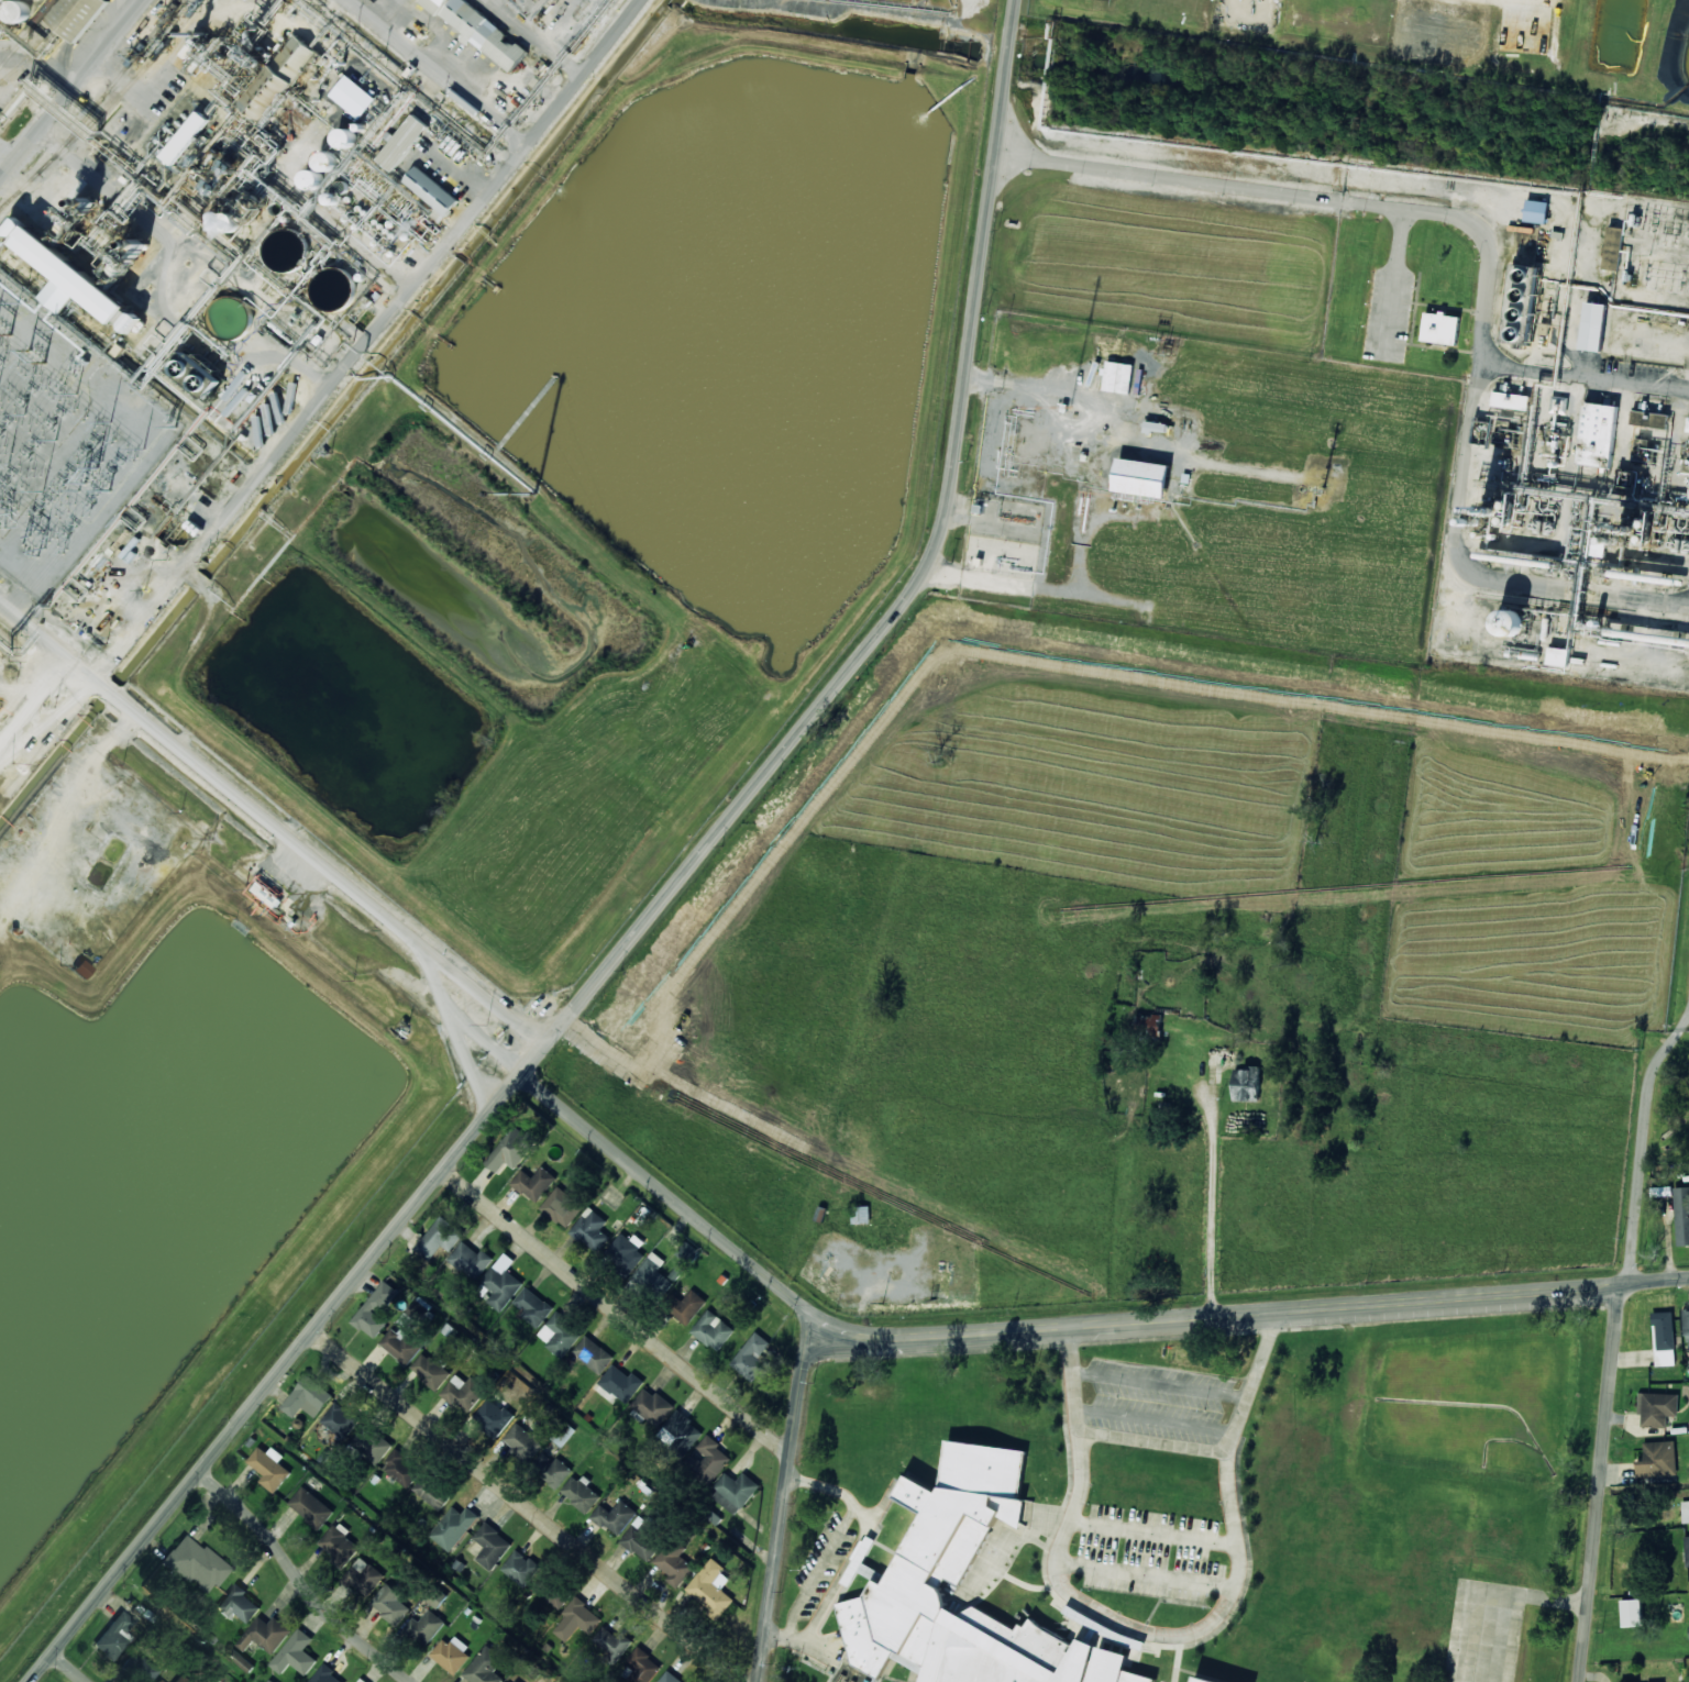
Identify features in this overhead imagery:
building: (431, 2)
building: (12, 9)
storage tank: (12, 9)
building: (79, 15)
building: (484, 30)
railway: (25, 32)
railway: (38, 42)
road: (439, 71)
building: (252, 75)
road: (73, 89)
railway: (122, 90)
railway: (91, 106)
building: (184, 135)
building: (311, 179)
building: (427, 188)
road: (1413, 202)
building: (1536, 211)
building: (229, 222)
building: (1613, 247)
power plant: (99, 250)
power substation: (1654, 254)
building: (65, 279)
road: (162, 292)
building: (1514, 306)
building: (133, 322)
building: (1588, 324)
building: (1440, 328)
road: (368, 340)
building: (1117, 376)
building: (1511, 400)
building: (1649, 419)
building: (1481, 432)
building: (1597, 434)
building: (1688, 436)
power substation: (64, 442)
building: (1141, 477)
railway: (1582, 607)
building: (1510, 623)
building: (1558, 656)
road: (35, 700)
road: (279, 828)
building: (266, 893)
road: (660, 901)
wastewater plant: (1680, 966)
building: (82, 969)
road: (482, 993)
road: (484, 1040)
building: (1247, 1084)
building: (511, 1149)
building: (534, 1183)
road: (672, 1197)
building: (562, 1207)
building: (1681, 1215)
building: (592, 1229)
building: (439, 1238)
building: (627, 1251)
building: (687, 1252)
building: (470, 1260)
building: (653, 1264)
building: (499, 1283)
building: (532, 1306)
building: (689, 1306)
road: (1250, 1308)
building: (376, 1309)
road: (616, 1312)
building: (415, 1314)
building: (1686, 1325)
building: (713, 1329)
building: (560, 1334)
building: (1664, 1338)
building: (400, 1345)
building: (593, 1354)
building: (751, 1357)
building: (430, 1370)
building: (619, 1384)
building: (464, 1392)
building: (308, 1397)
building: (652, 1406)
building: (1657, 1408)
building: (493, 1417)
building: (339, 1419)
building: (682, 1431)
building: (563, 1434)
building: (521, 1442)
building: (372, 1443)
building: (711, 1458)
building: (1657, 1459)
building: (269, 1468)
building: (401, 1469)
building: (556, 1473)
road: (1598, 1482)
building: (735, 1491)
building: (432, 1492)
building: (581, 1493)
road: (783, 1505)
road: (526, 1506)
building: (311, 1507)
building: (1685, 1511)
building: (616, 1516)
building: (454, 1527)
building: (643, 1538)
building: (339, 1545)
building: (492, 1546)
building: (1687, 1550)
building: (940, 1551)
building: (674, 1562)
building: (195, 1564)
building: (520, 1568)
building: (866, 1570)
building: (364, 1576)
road: (301, 1580)
building: (710, 1587)
building: (556, 1596)
building: (434, 1597)
building: (390, 1604)
building: (239, 1605)
building: (1632, 1612)
building: (577, 1619)
building: (426, 1626)
building: (265, 1634)
road: (1166, 1634)
building: (113, 1636)
building: (611, 1642)
building: (296, 1653)
building: (451, 1653)
building: (241, 1660)
road: (69, 1667)
building: (485, 1667)
building: (641, 1667)
building: (143, 1670)
building: (327, 1675)
building: (669, 1678)
building: (180, 1679)
building: (362, 1680)
building: (1201, 1680)
building: (158, 1681)
building: (271, 1681)
building: (510, 1681)

